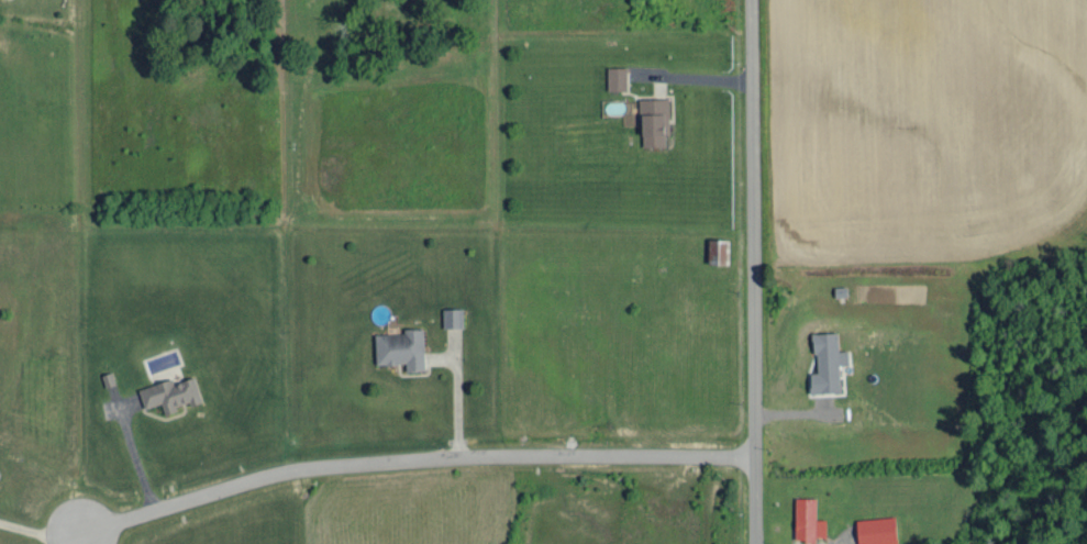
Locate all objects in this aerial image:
building: (617, 76)
building: (655, 118)
building: (718, 248)
road: (754, 271)
building: (453, 315)
building: (401, 346)
building: (828, 360)
building: (170, 391)
road: (132, 452)
road: (412, 456)
building: (808, 518)
building: (877, 529)
road: (40, 530)
road: (77, 537)
road: (85, 537)

